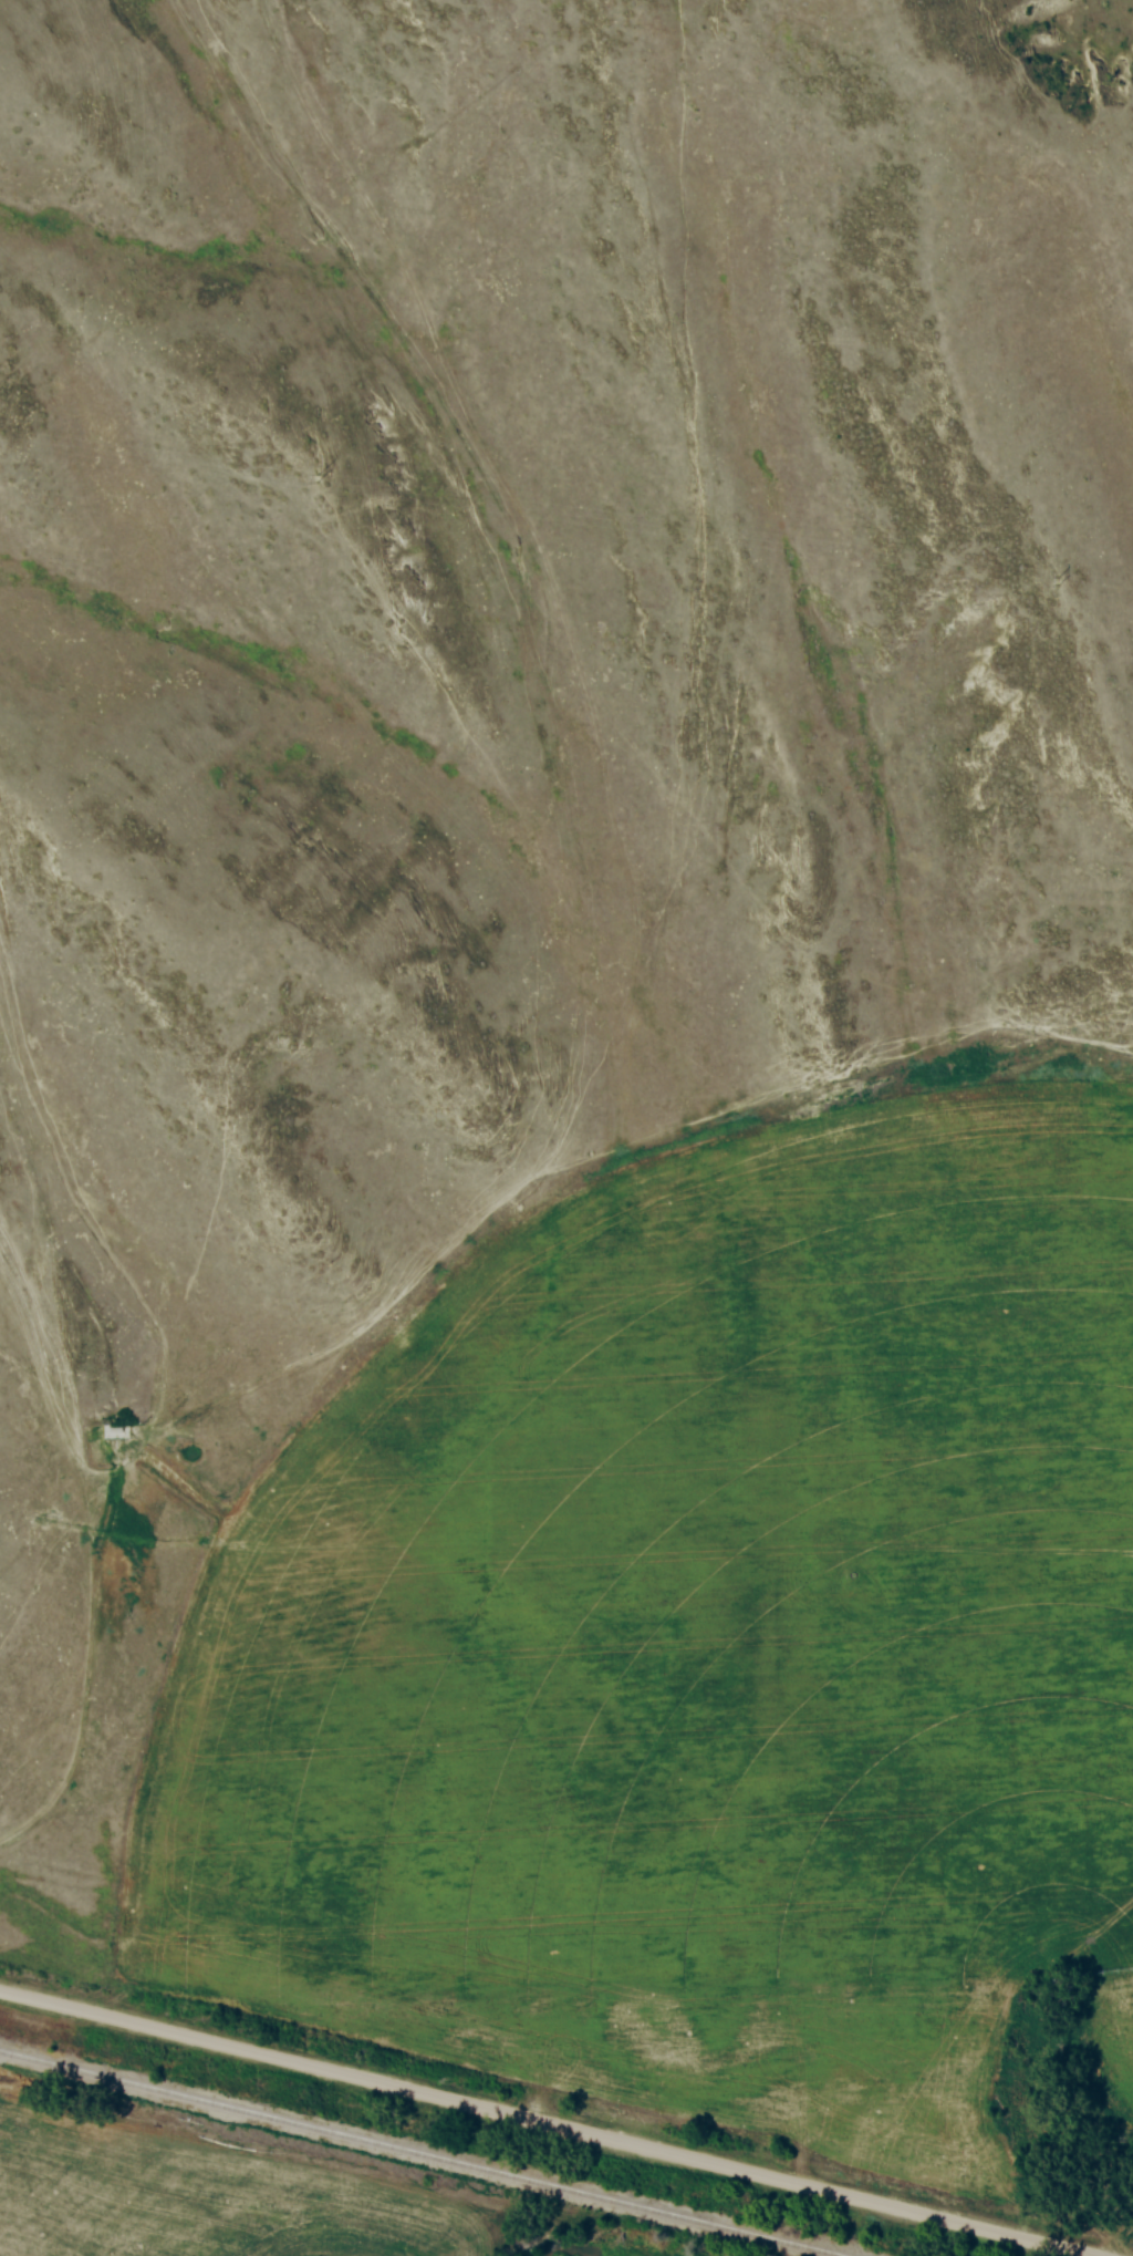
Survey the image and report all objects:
road: (545, 2124)
railway: (419, 2153)

